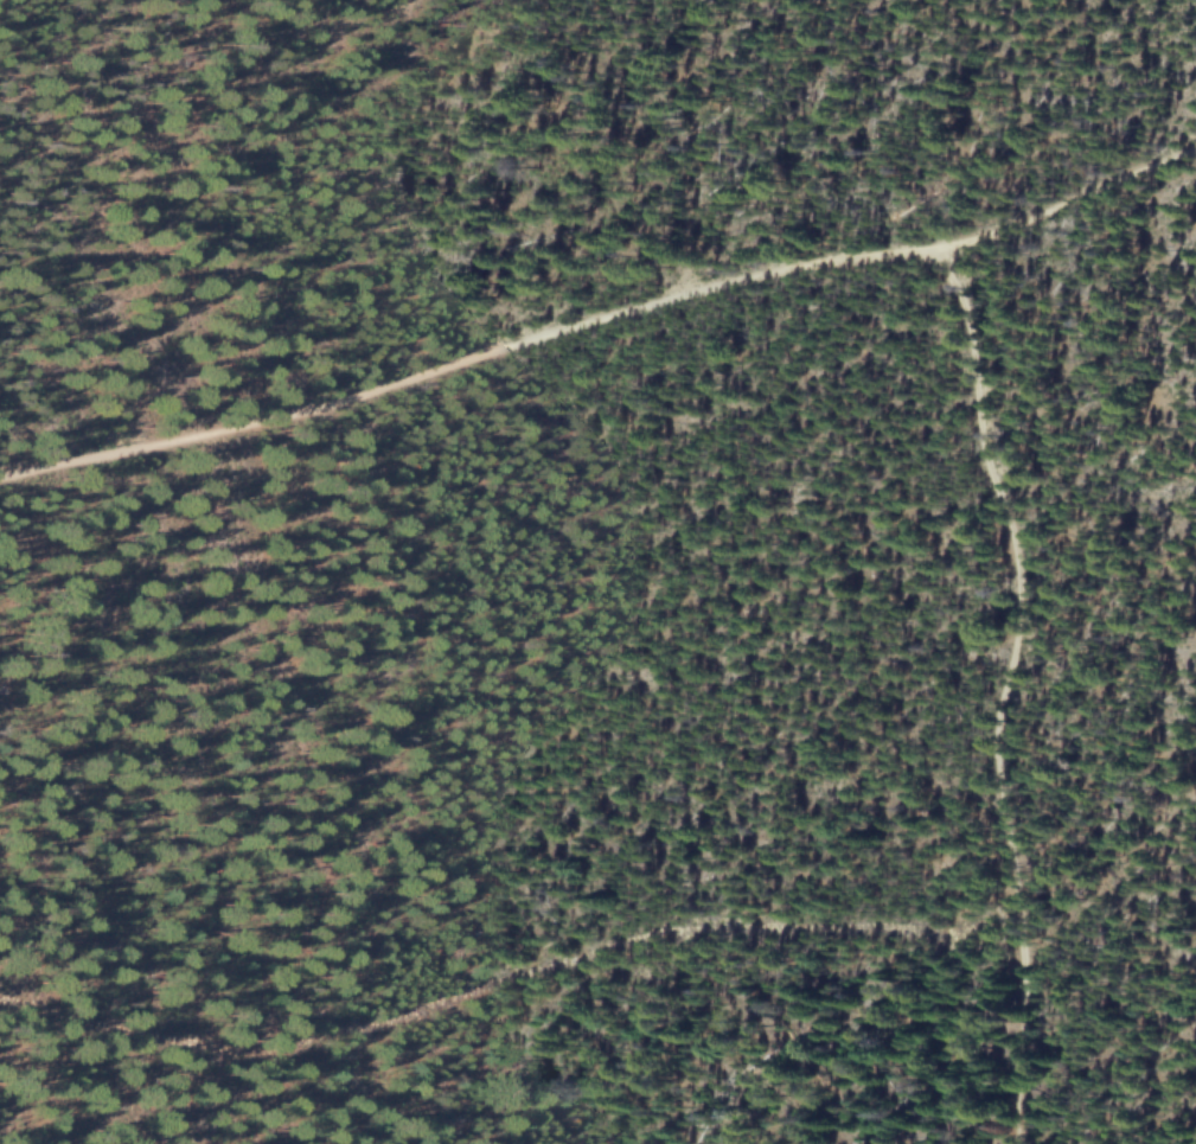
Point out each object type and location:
road: (600, 318)
road: (1004, 690)
road: (507, 978)
road: (354, 1085)

